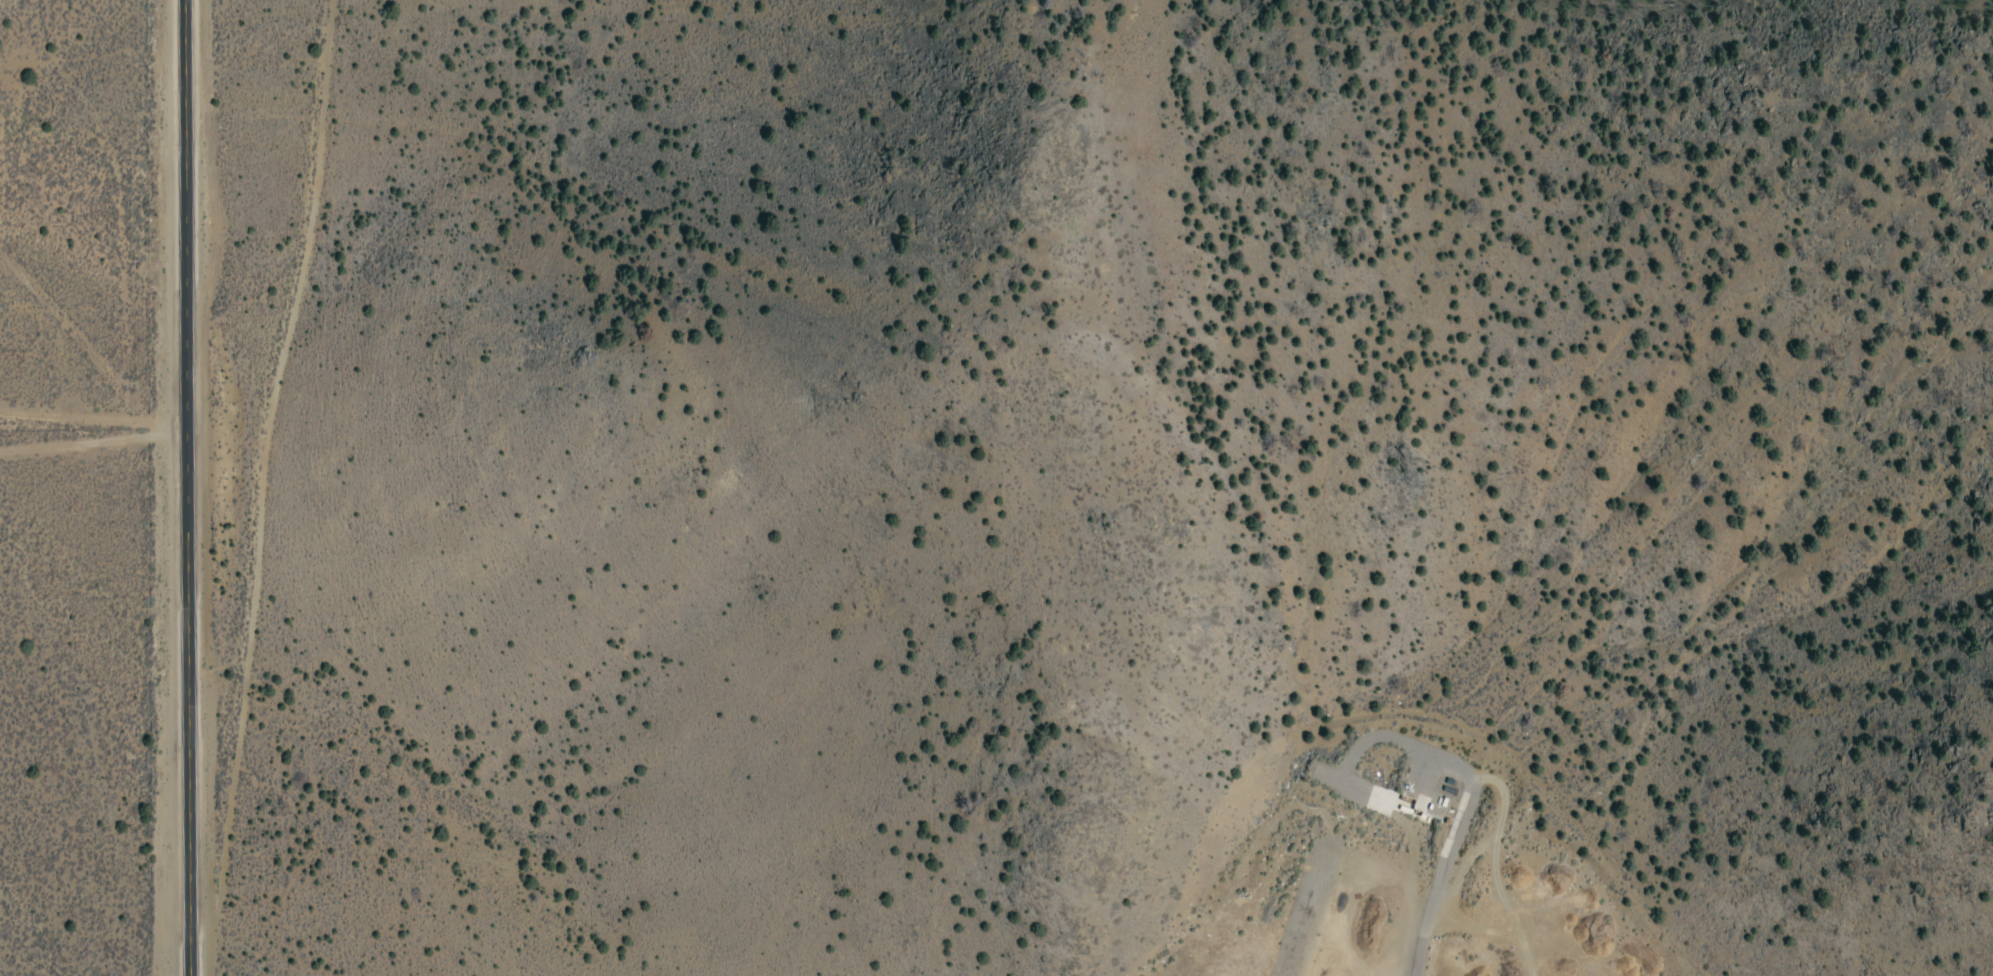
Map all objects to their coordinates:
road: (85, 440)
road: (172, 487)
road: (1471, 799)
building: (1380, 802)
building: (1453, 824)

